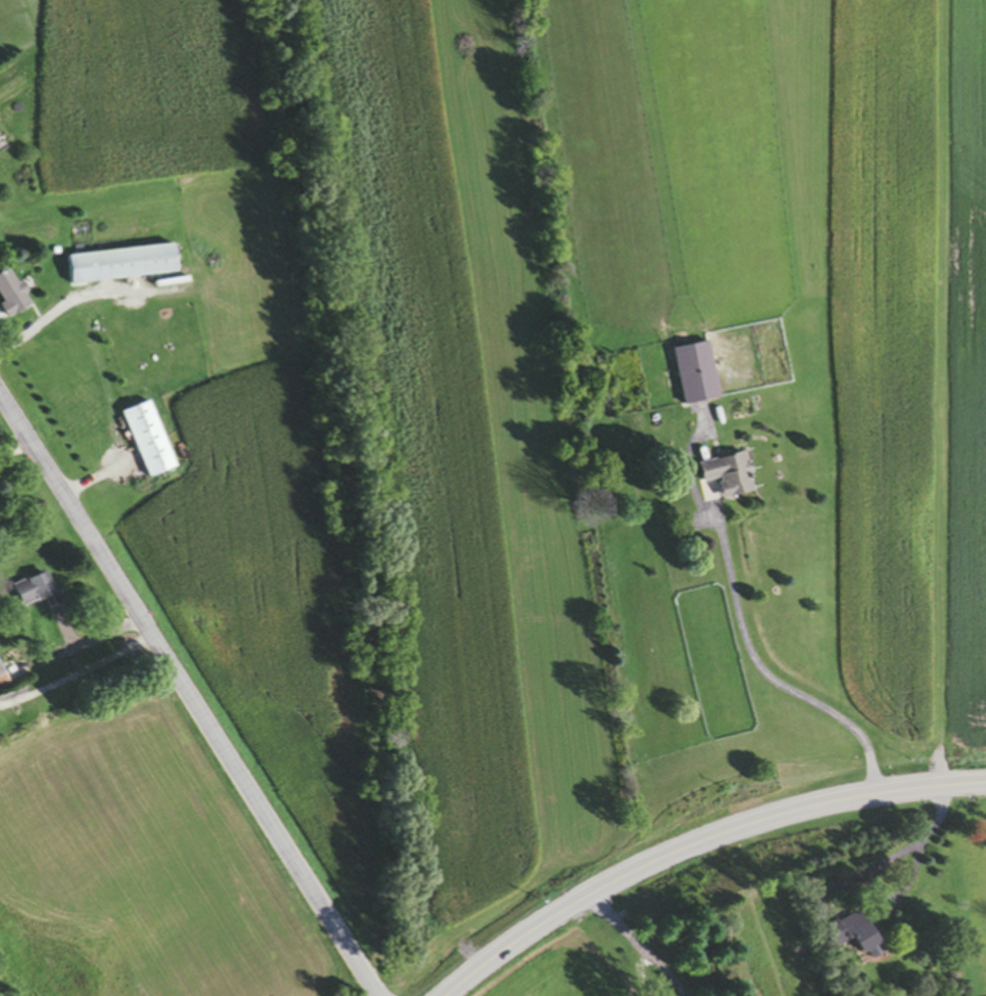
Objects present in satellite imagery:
building: (119, 266)
road: (76, 294)
building: (11, 296)
building: (695, 375)
building: (583, 401)
building: (146, 441)
road: (11, 444)
building: (727, 476)
building: (30, 591)
road: (770, 675)
road: (77, 678)
building: (3, 683)
road: (190, 700)
road: (699, 845)
road: (874, 863)
building: (852, 936)
road: (638, 945)

